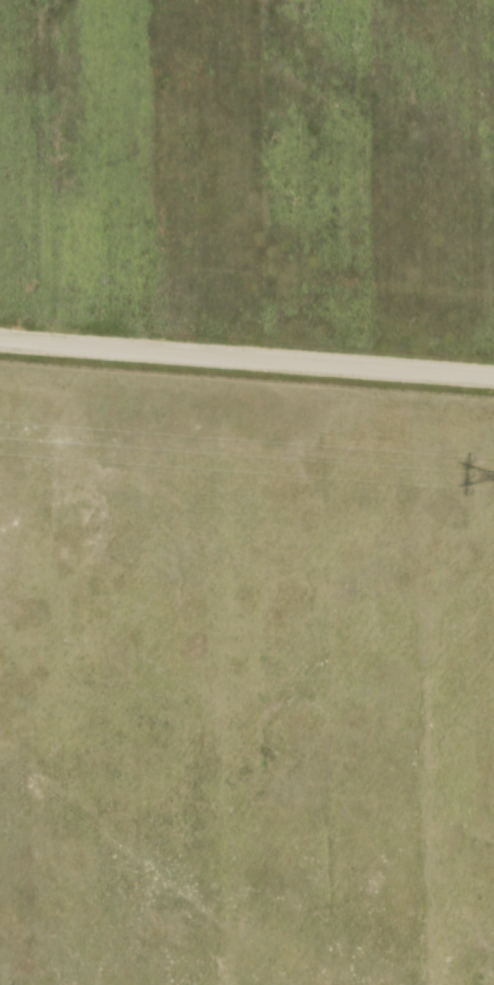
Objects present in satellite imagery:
road: (246, 359)

